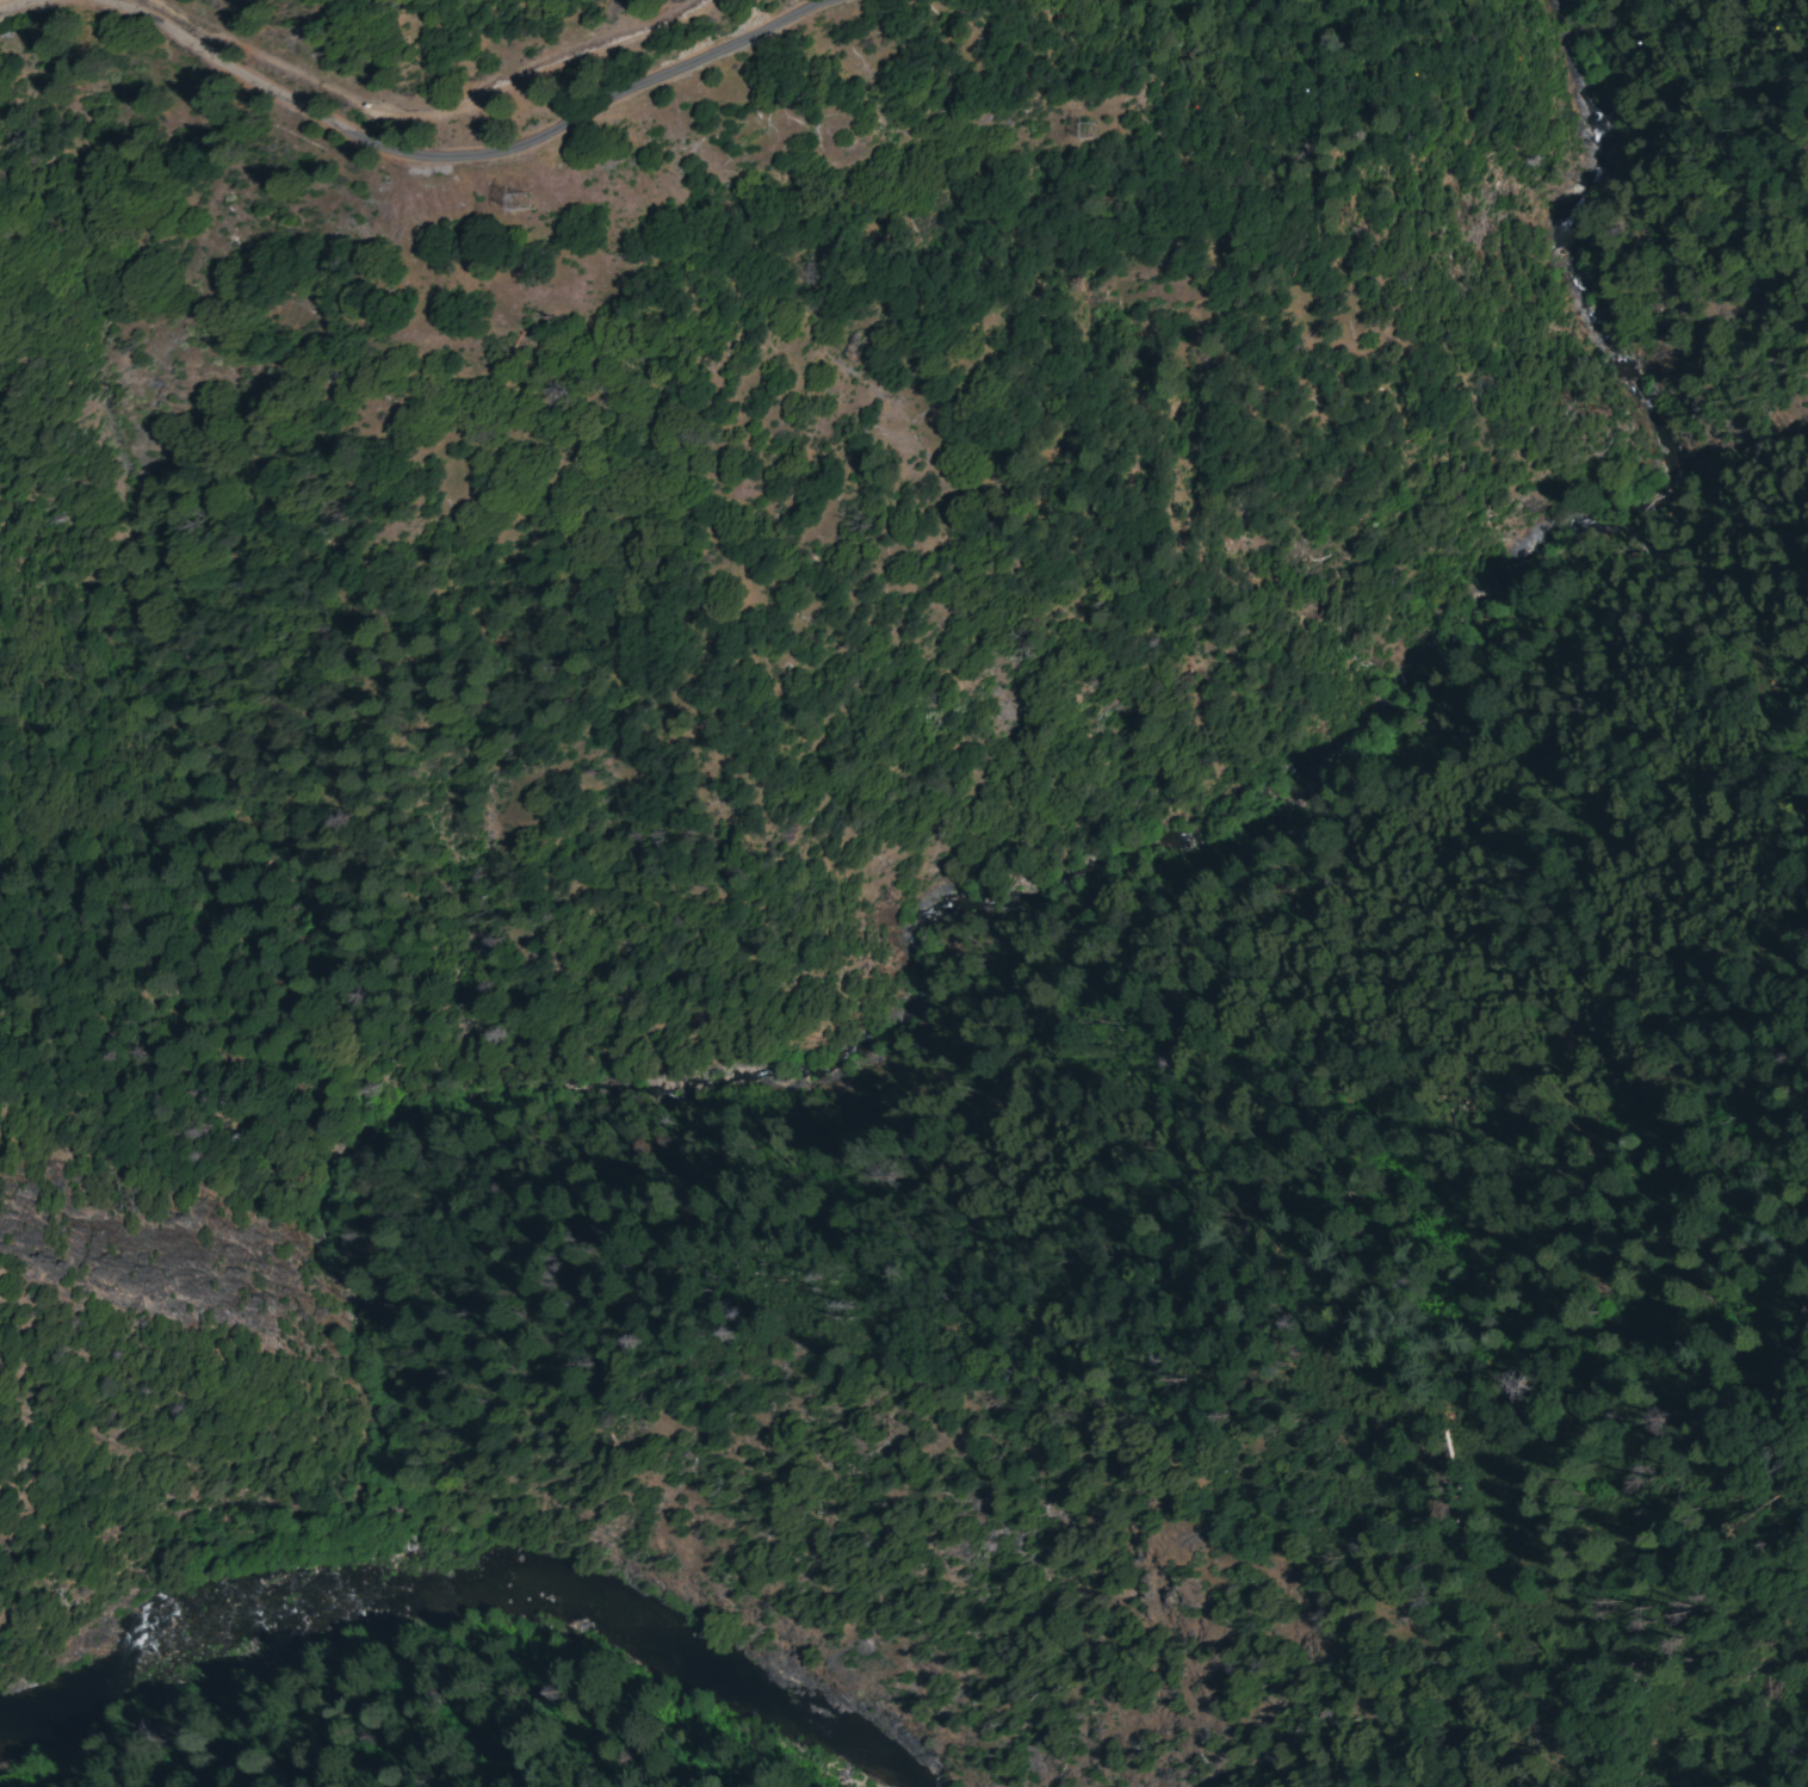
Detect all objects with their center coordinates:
power tower: (1100, 132)
road: (369, 138)
power tower: (528, 204)

